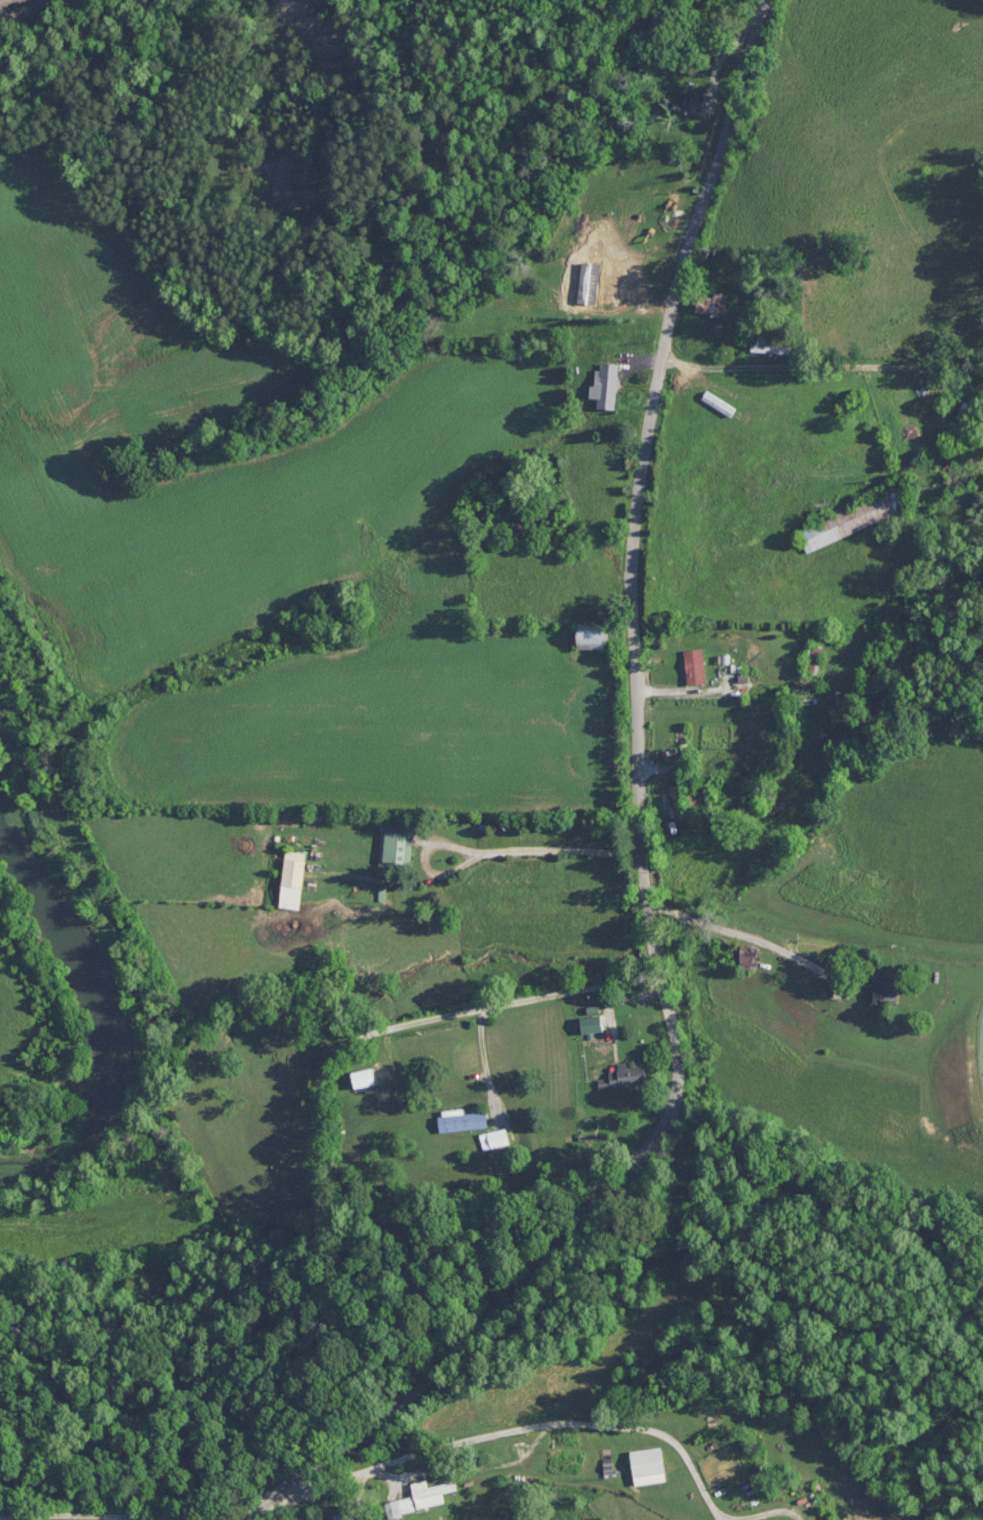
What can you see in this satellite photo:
railway: (9, 4)
road: (719, 63)
building: (691, 99)
building: (624, 279)
building: (710, 302)
building: (771, 346)
road: (821, 364)
building: (607, 384)
building: (962, 410)
building: (857, 517)
road: (633, 530)
building: (595, 637)
building: (818, 660)
building: (695, 665)
building: (698, 797)
building: (676, 802)
building: (395, 849)
road: (538, 854)
building: (294, 878)
building: (745, 956)
building: (887, 984)
river: (109, 1001)
building: (589, 1023)
building: (628, 1073)
building: (364, 1079)
building: (461, 1119)
building: (493, 1138)
road: (315, 1151)
road: (483, 1321)
building: (506, 1453)
building: (434, 1493)
building: (408, 1504)
building: (345, 1517)

